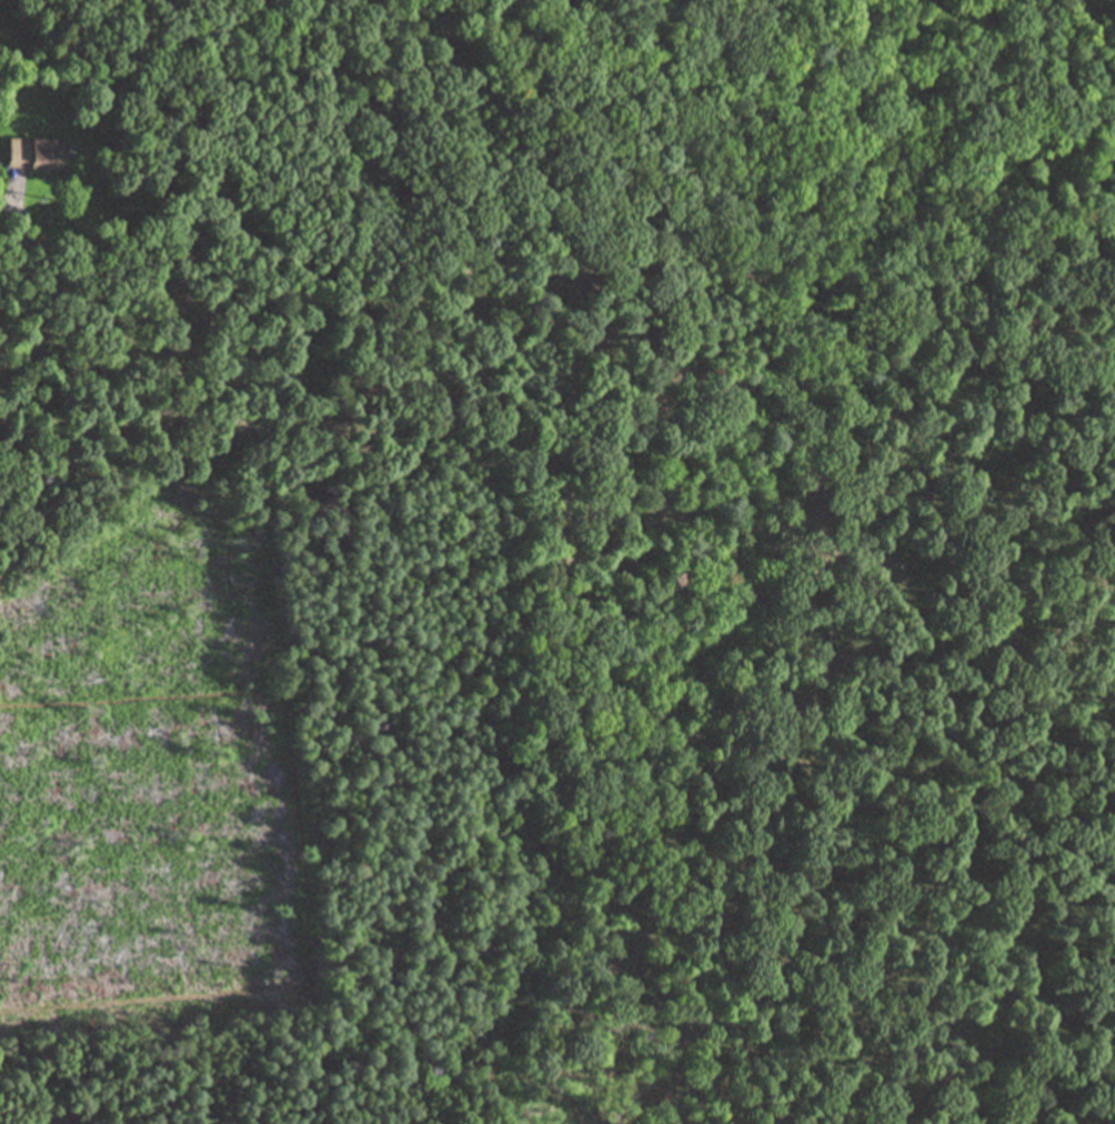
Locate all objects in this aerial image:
building: (41, 155)

